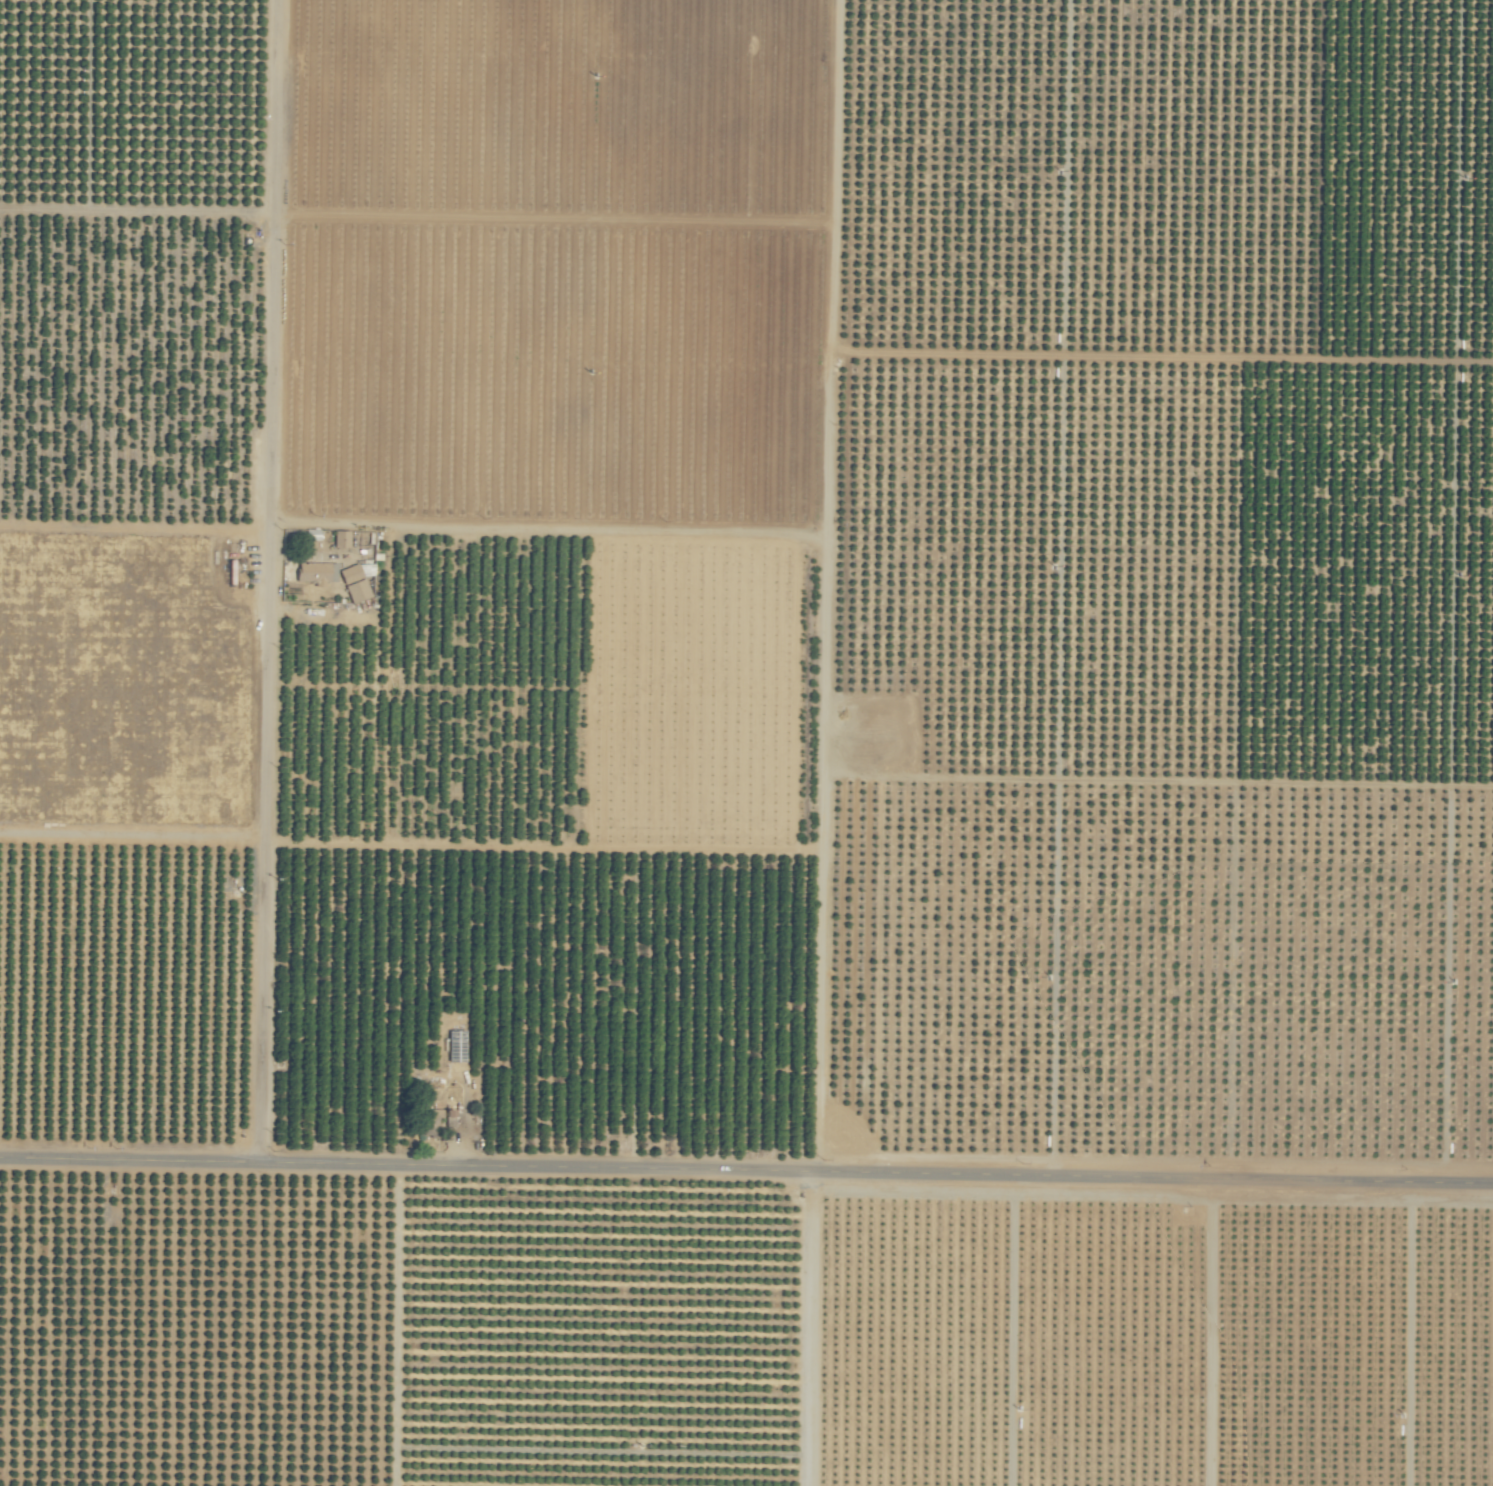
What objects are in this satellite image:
road: (134, 529)
building: (315, 572)
building: (356, 584)
road: (268, 597)
crop: (746, 743)
building: (434, 1120)
road: (746, 1200)
road: (822, 1343)

